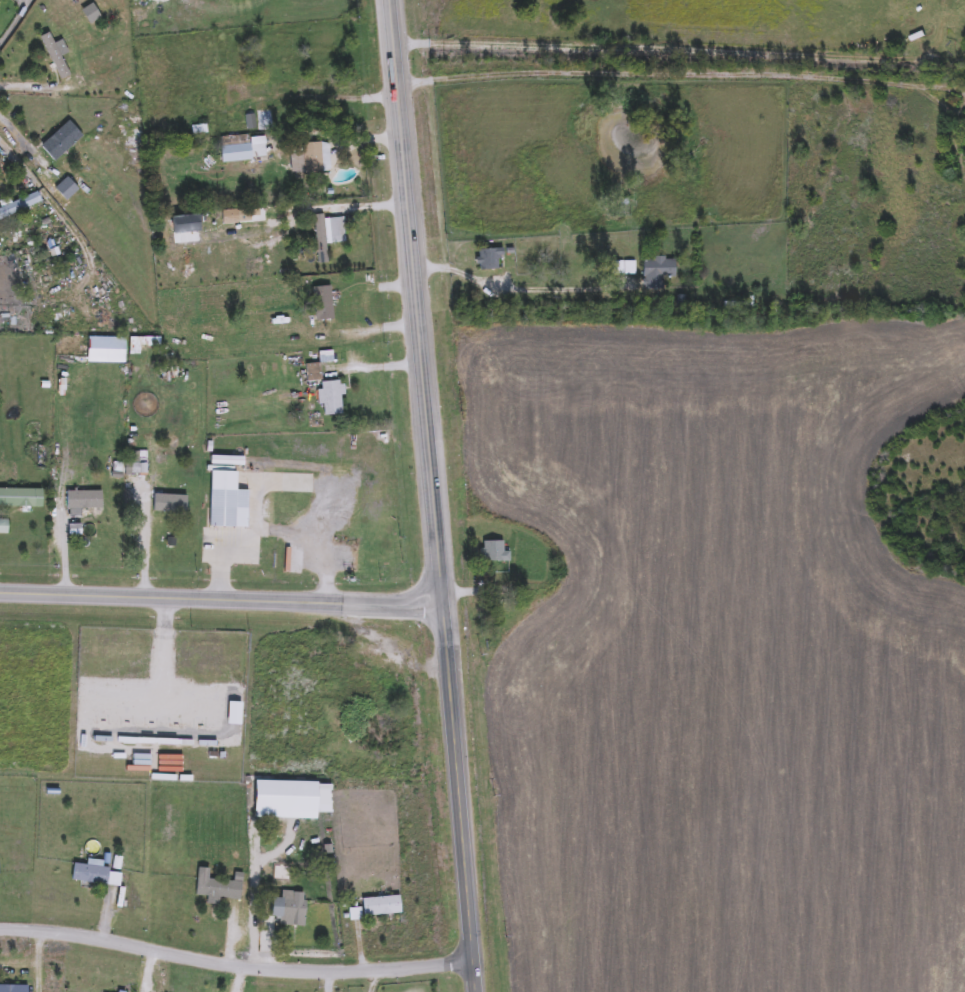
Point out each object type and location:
road: (15, 20)
road: (662, 48)
building: (960, 52)
building: (56, 57)
road: (679, 67)
road: (32, 79)
building: (238, 93)
road: (331, 97)
road: (21, 128)
building: (62, 141)
building: (242, 149)
road: (17, 152)
building: (312, 159)
building: (20, 206)
building: (328, 235)
building: (490, 260)
building: (625, 269)
building: (659, 270)
road: (509, 280)
road: (417, 301)
building: (323, 304)
building: (305, 332)
building: (314, 373)
building: (165, 378)
building: (332, 399)
building: (21, 499)
building: (227, 502)
building: (167, 504)
building: (84, 505)
road: (277, 523)
building: (4, 528)
road: (144, 533)
building: (495, 553)
road: (220, 598)
road: (164, 682)
road: (192, 700)
road: (461, 797)
building: (91, 875)
building: (217, 888)
building: (382, 907)
building: (288, 910)
road: (36, 963)
road: (236, 971)
building: (13, 989)

